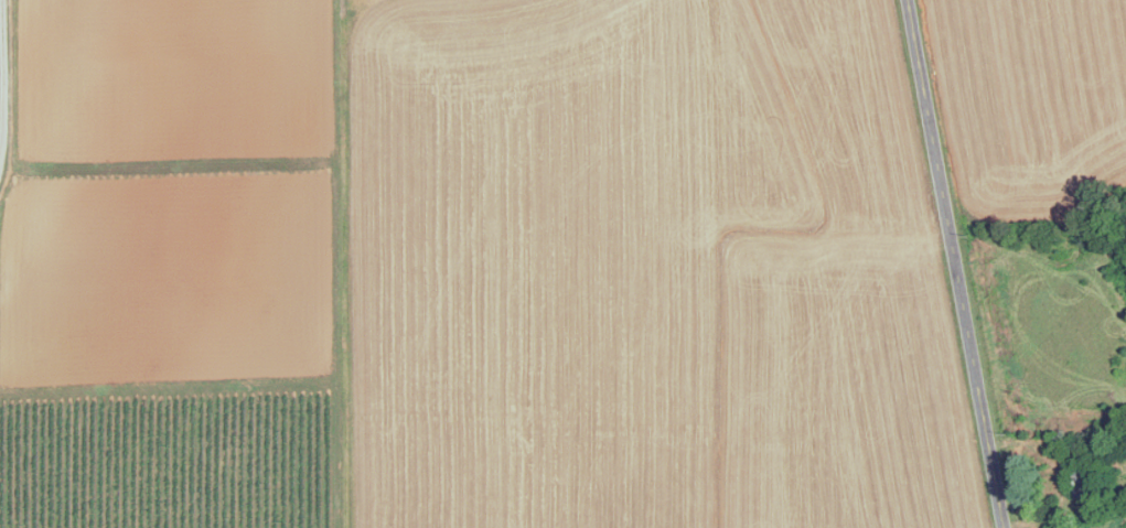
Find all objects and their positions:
road: (958, 263)
building: (1083, 479)

